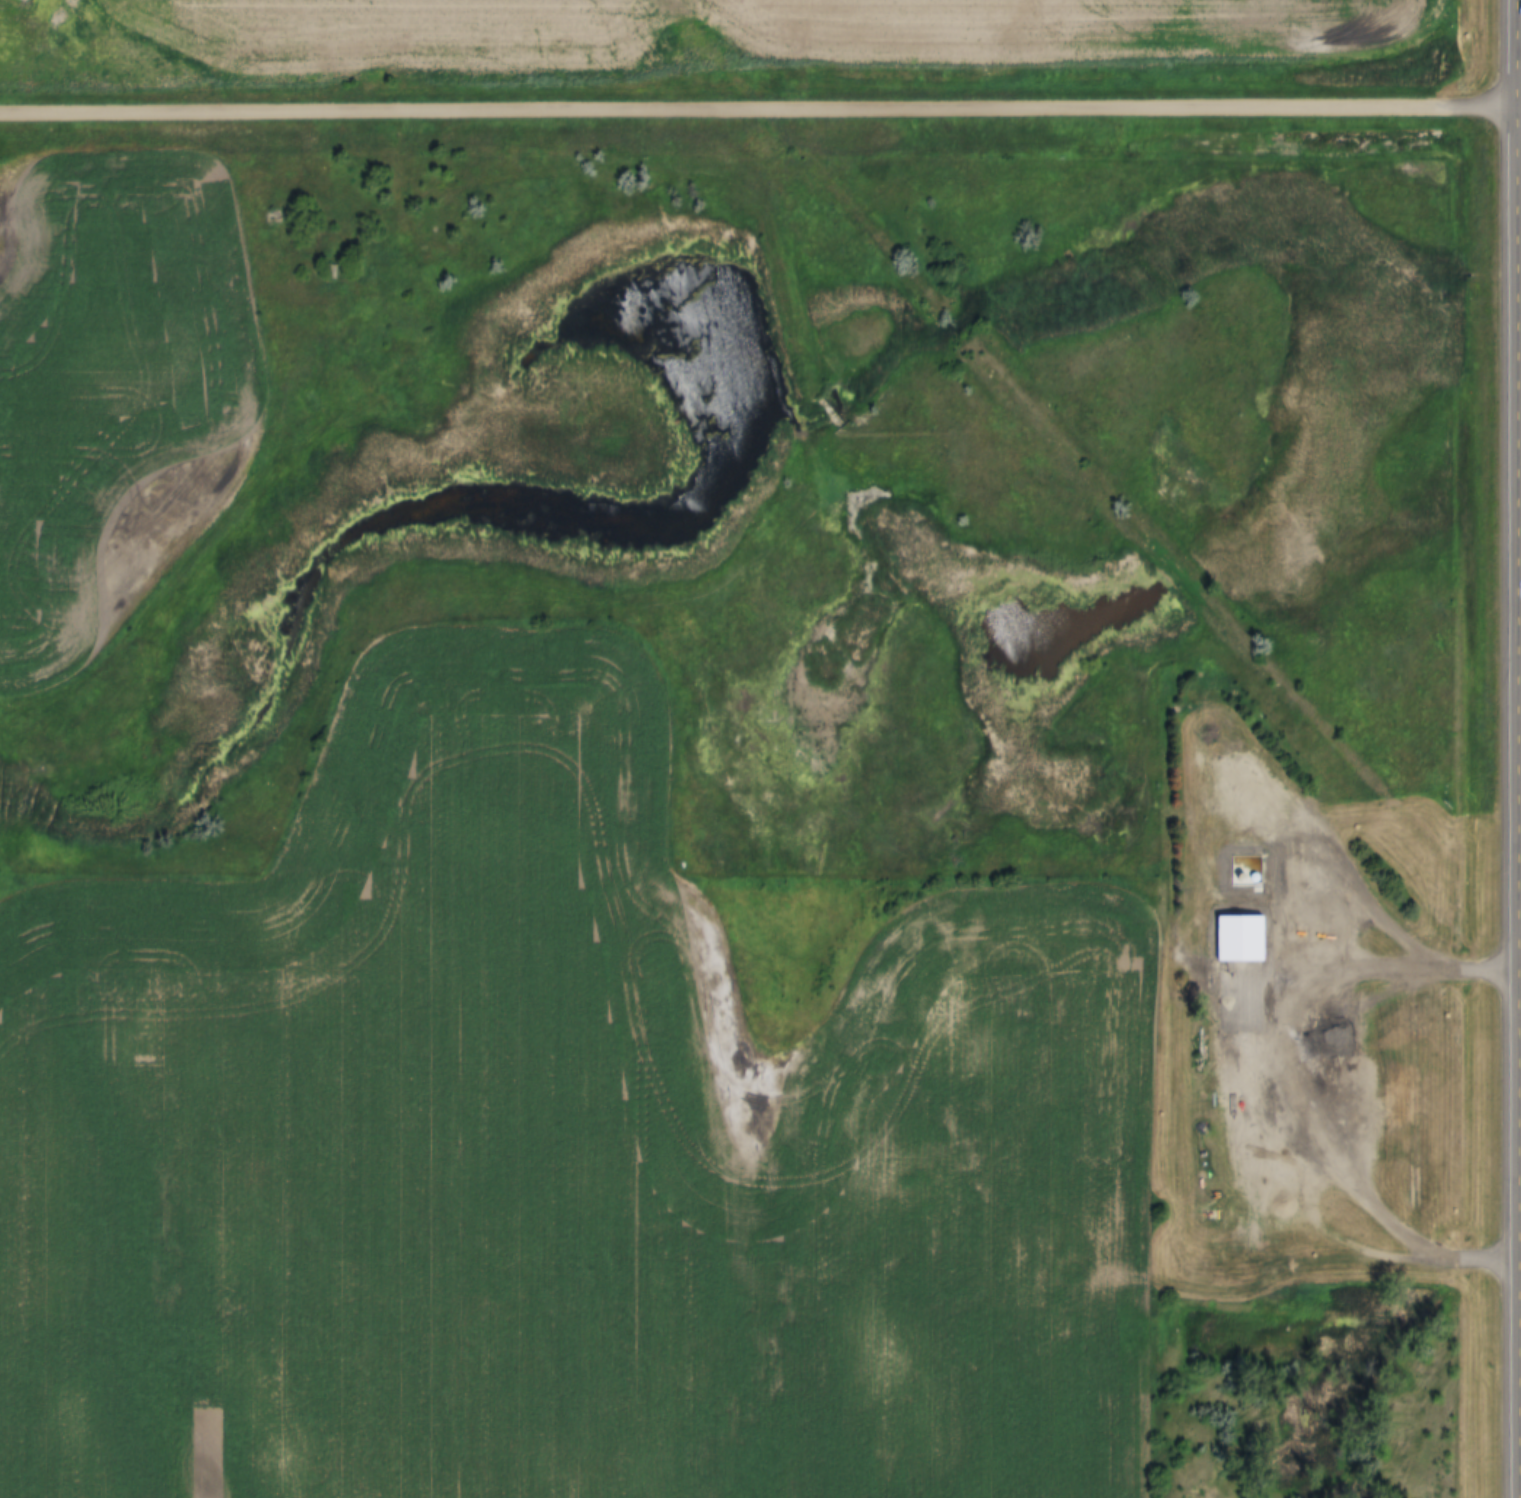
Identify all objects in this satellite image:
road: (760, 113)
road: (1340, 1116)

